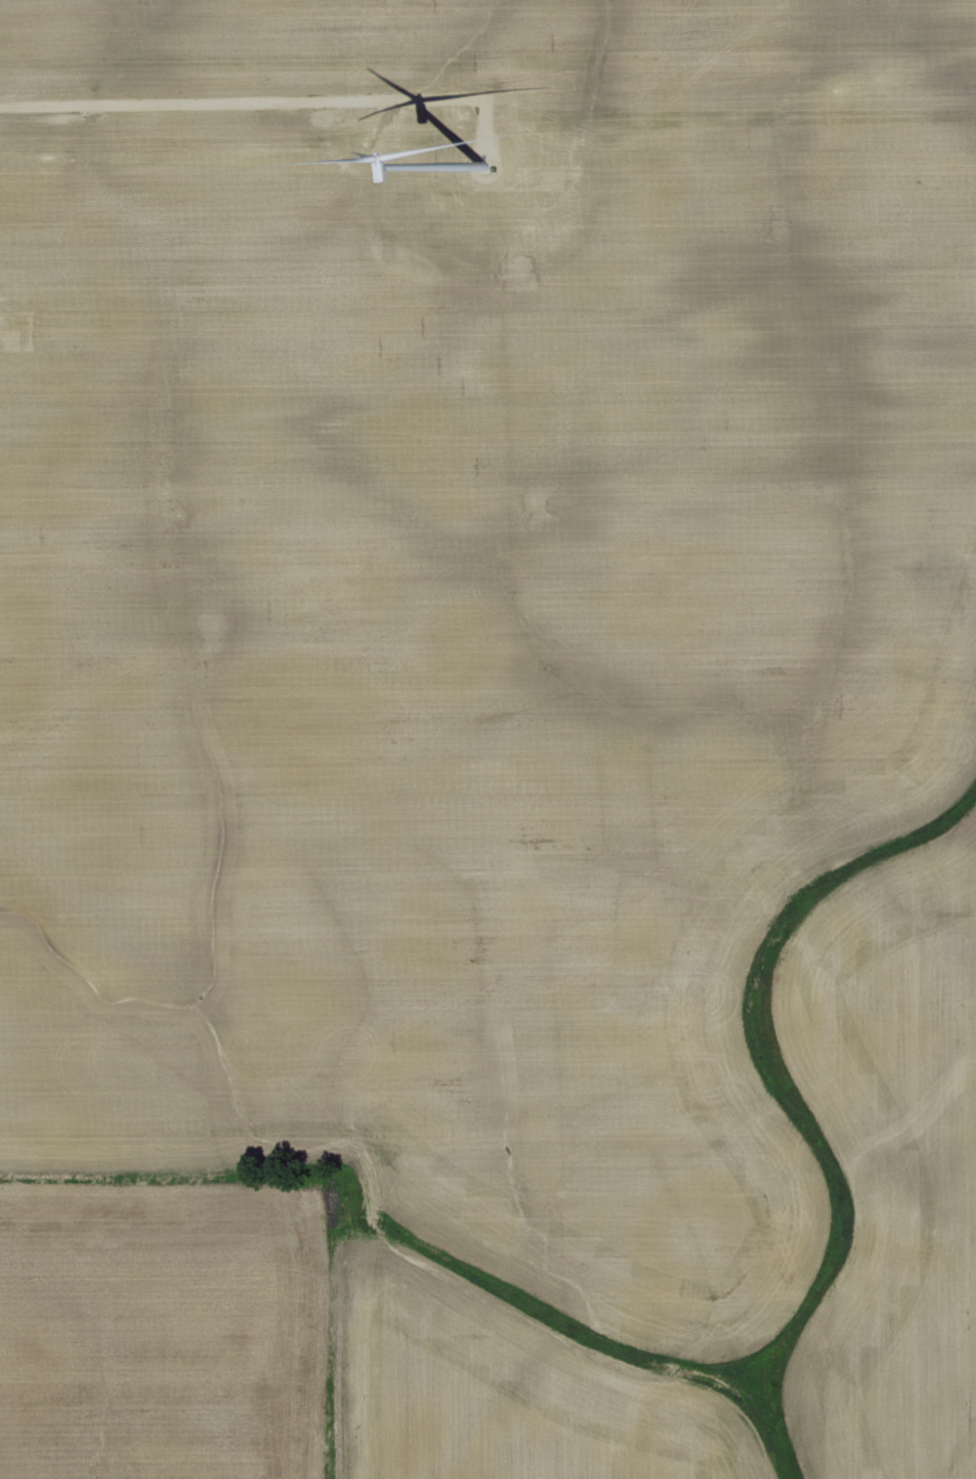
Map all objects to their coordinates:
wind turbine: (475, 164)

